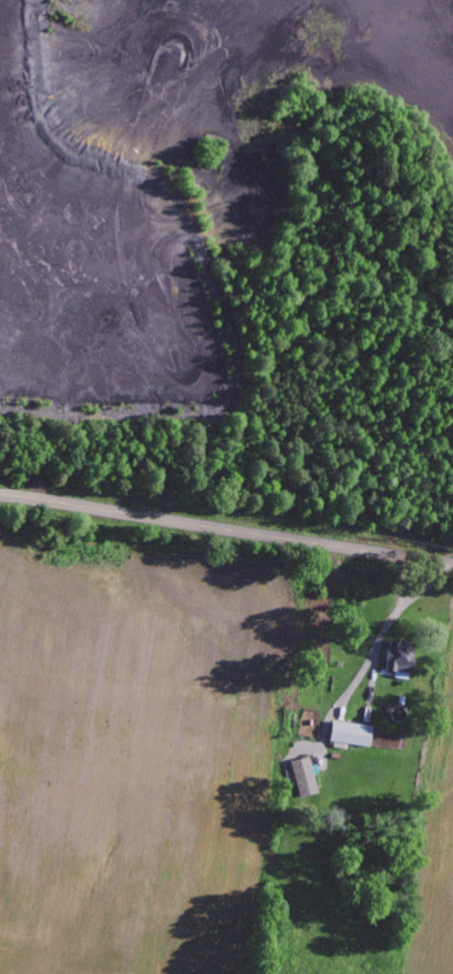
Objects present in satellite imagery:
road: (226, 530)
building: (397, 660)
building: (350, 733)
building: (304, 776)

